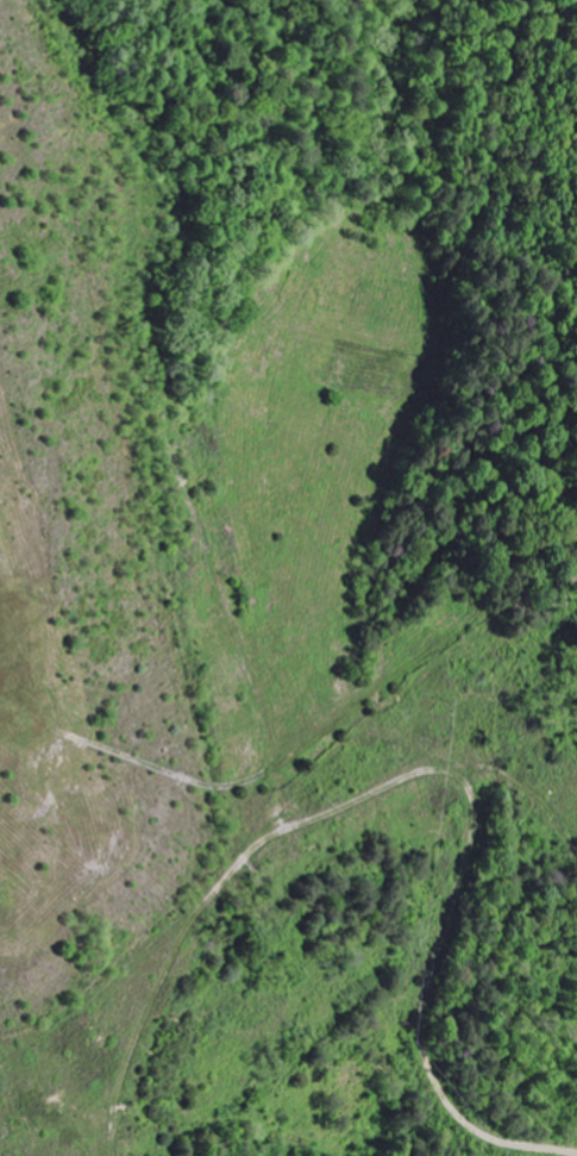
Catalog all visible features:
landfill: (99, 549)

